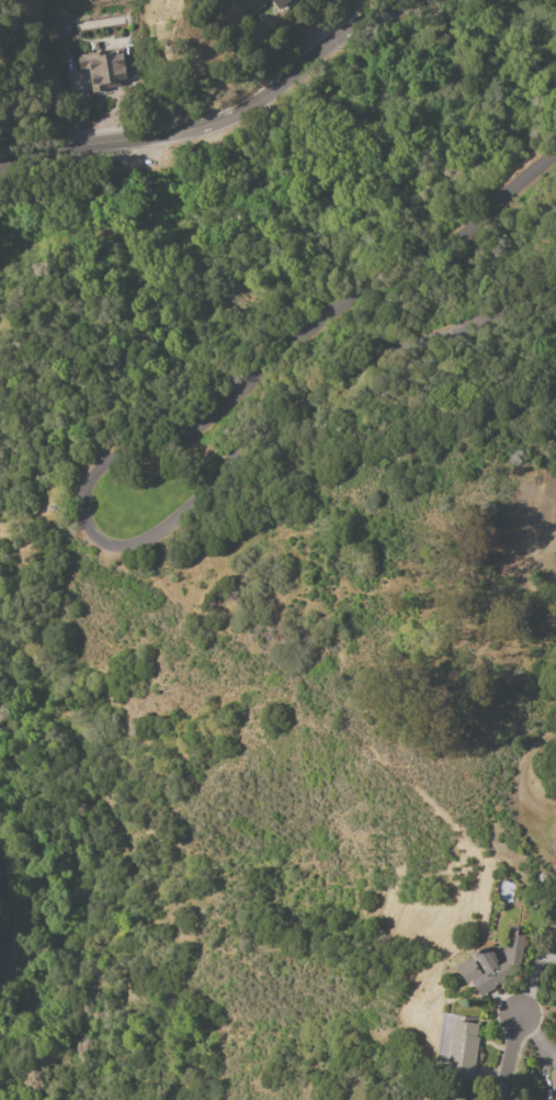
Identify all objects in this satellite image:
building: (281, 3)
building: (105, 67)
road: (236, 122)
road: (91, 497)
road: (540, 767)
road: (543, 806)
road: (541, 832)
road: (4, 924)
building: (554, 935)
building: (492, 966)
building: (463, 1050)
road: (511, 1058)
building: (553, 1079)

